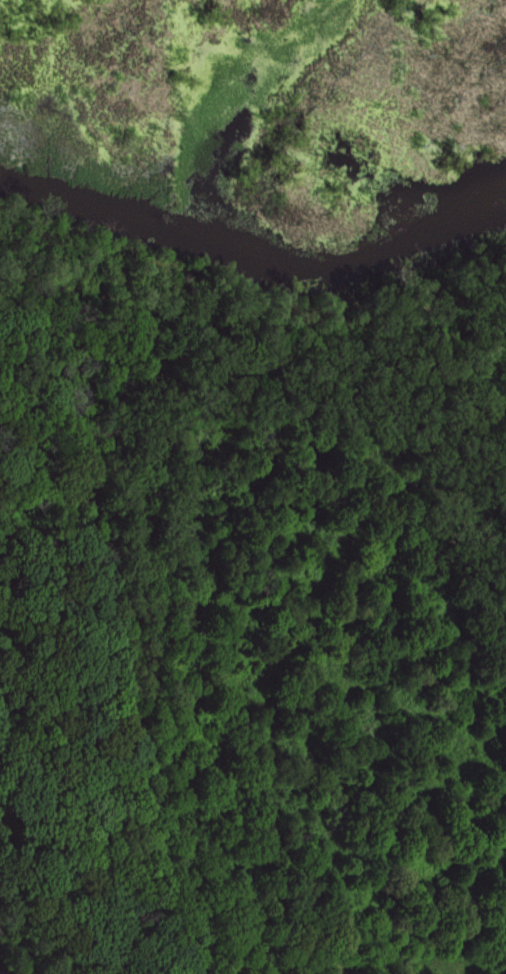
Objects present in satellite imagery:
river: (252, 261)

